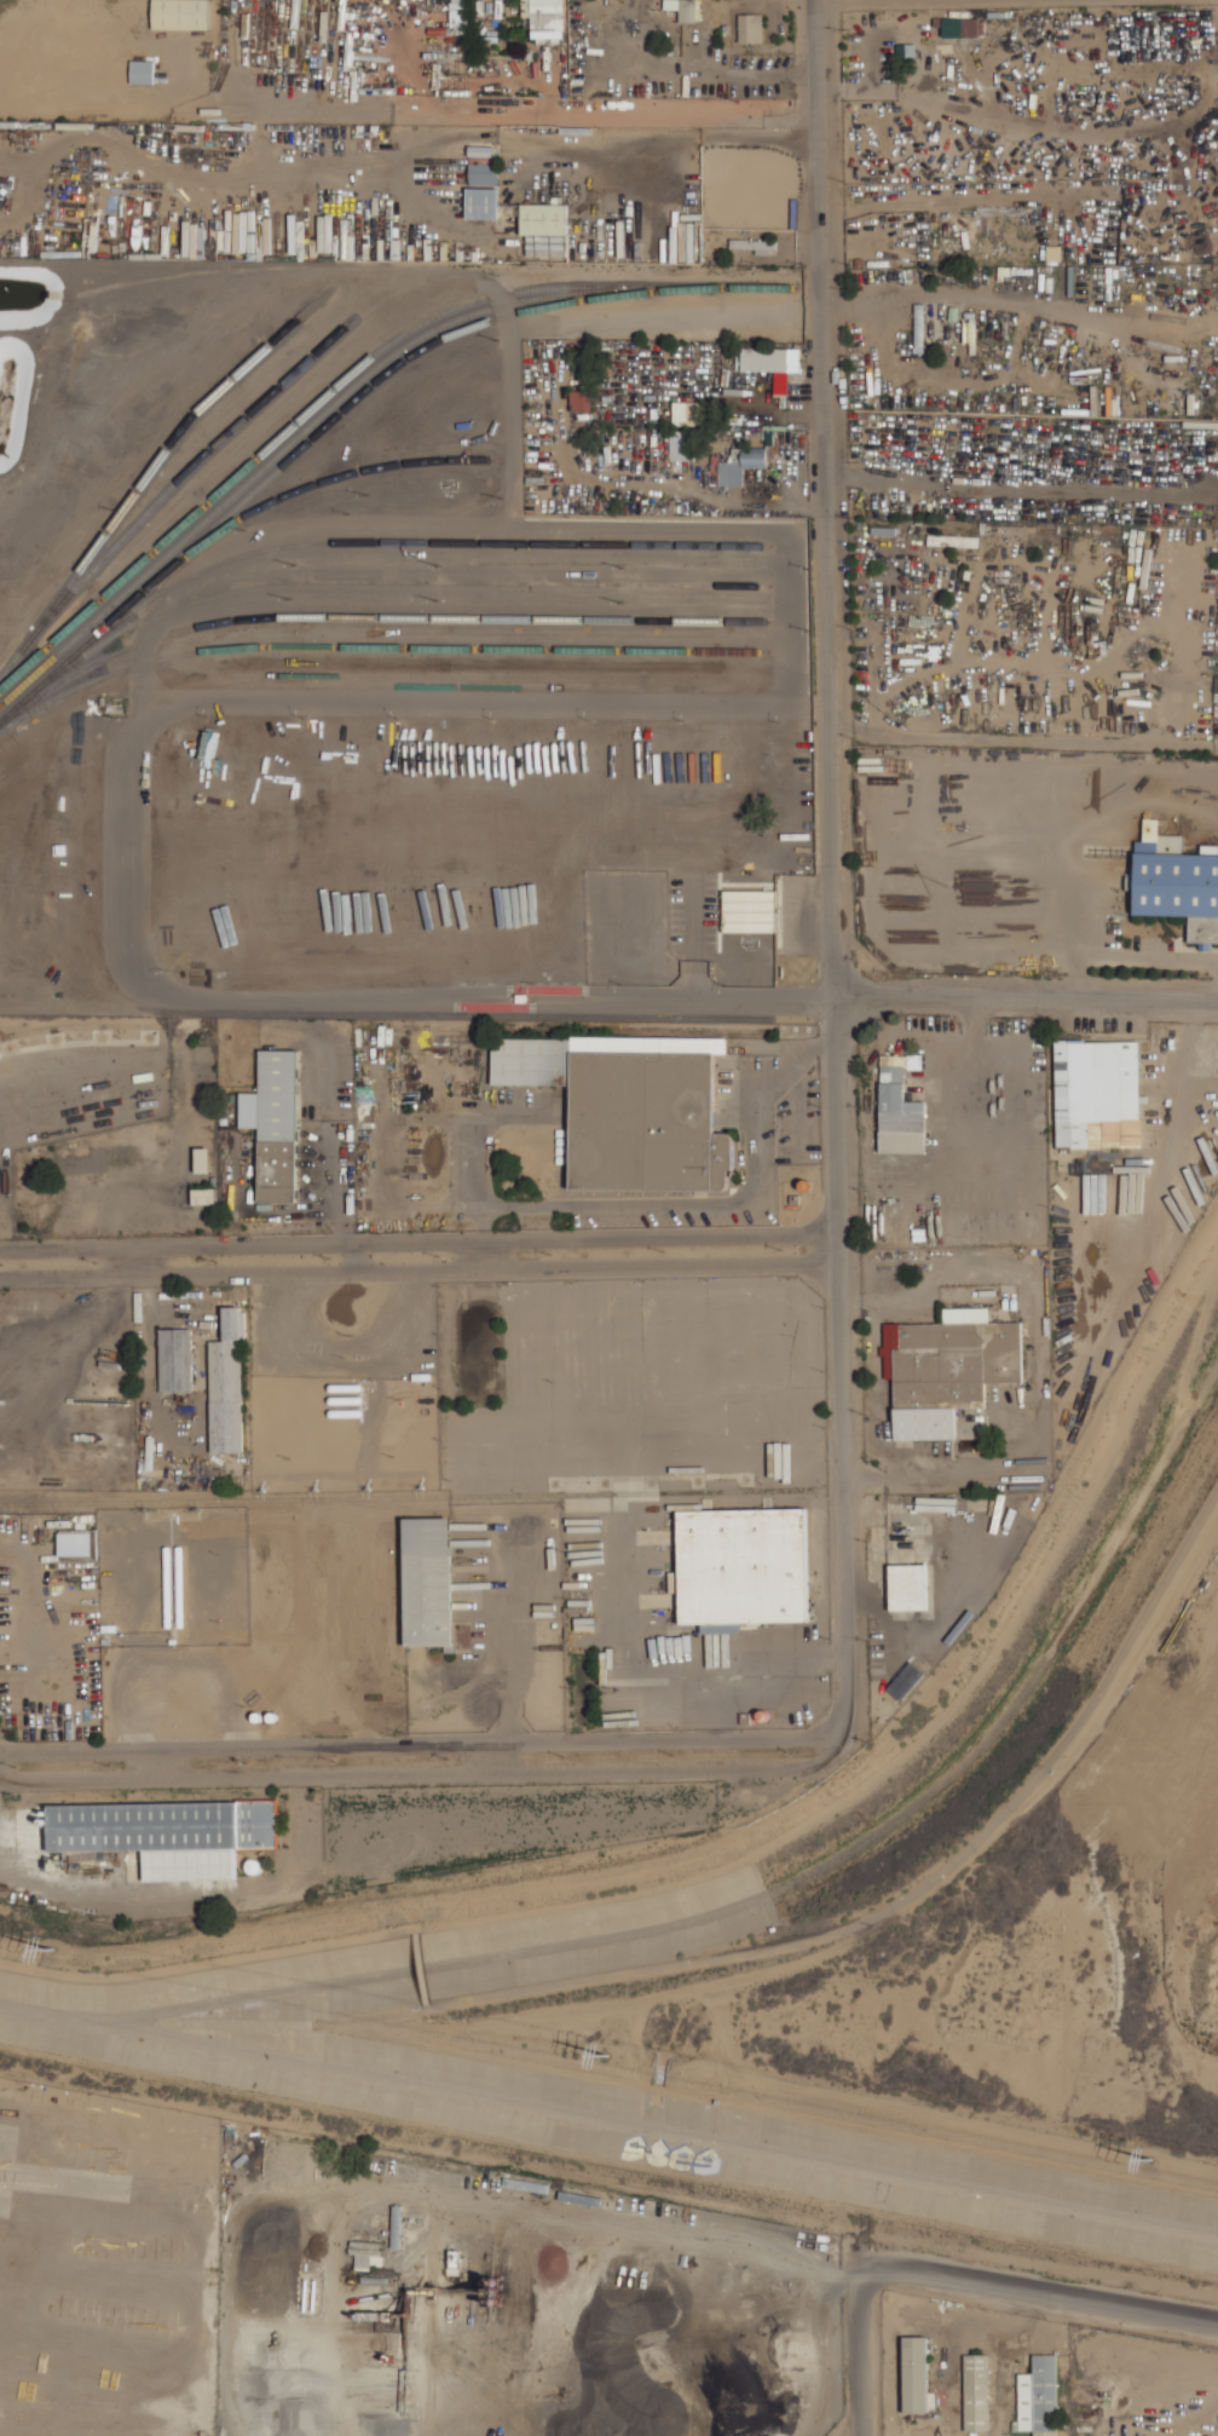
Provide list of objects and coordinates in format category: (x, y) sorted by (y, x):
building: (645, 6)
building: (682, 8)
building: (179, 13)
building: (547, 17)
building: (746, 27)
building: (905, 51)
building: (142, 70)
road: (728, 75)
building: (480, 150)
building: (484, 173)
building: (483, 202)
building: (543, 218)
building: (758, 244)
building: (951, 355)
building: (769, 359)
building: (579, 399)
building: (679, 445)
building: (739, 466)
building: (952, 540)
road: (134, 851)
road: (835, 868)
building: (1177, 881)
building: (749, 910)
road: (1028, 1001)
railway: (381, 1024)
building: (1097, 1093)
building: (630, 1106)
building: (900, 1107)
building: (275, 1123)
building: (200, 1159)
building: (203, 1196)
road: (418, 1242)
road: (418, 1269)
road: (68, 1341)
building: (175, 1359)
building: (947, 1367)
building: (227, 1386)
railway: (397, 1495)
building: (75, 1543)
building: (741, 1567)
building: (428, 1582)
building: (908, 1586)
road: (666, 1678)
road: (718, 1710)
road: (420, 1743)
road: (427, 1770)
building: (168, 1833)
road: (913, 1890)
power tower: (52, 1948)
road: (206, 1962)
road: (417, 1968)
power tower: (610, 2055)
power tower: (1154, 2160)
building: (369, 2253)
road: (1040, 2281)
road: (862, 2343)
building: (917, 2375)
building: (977, 2392)
building: (1039, 2396)

